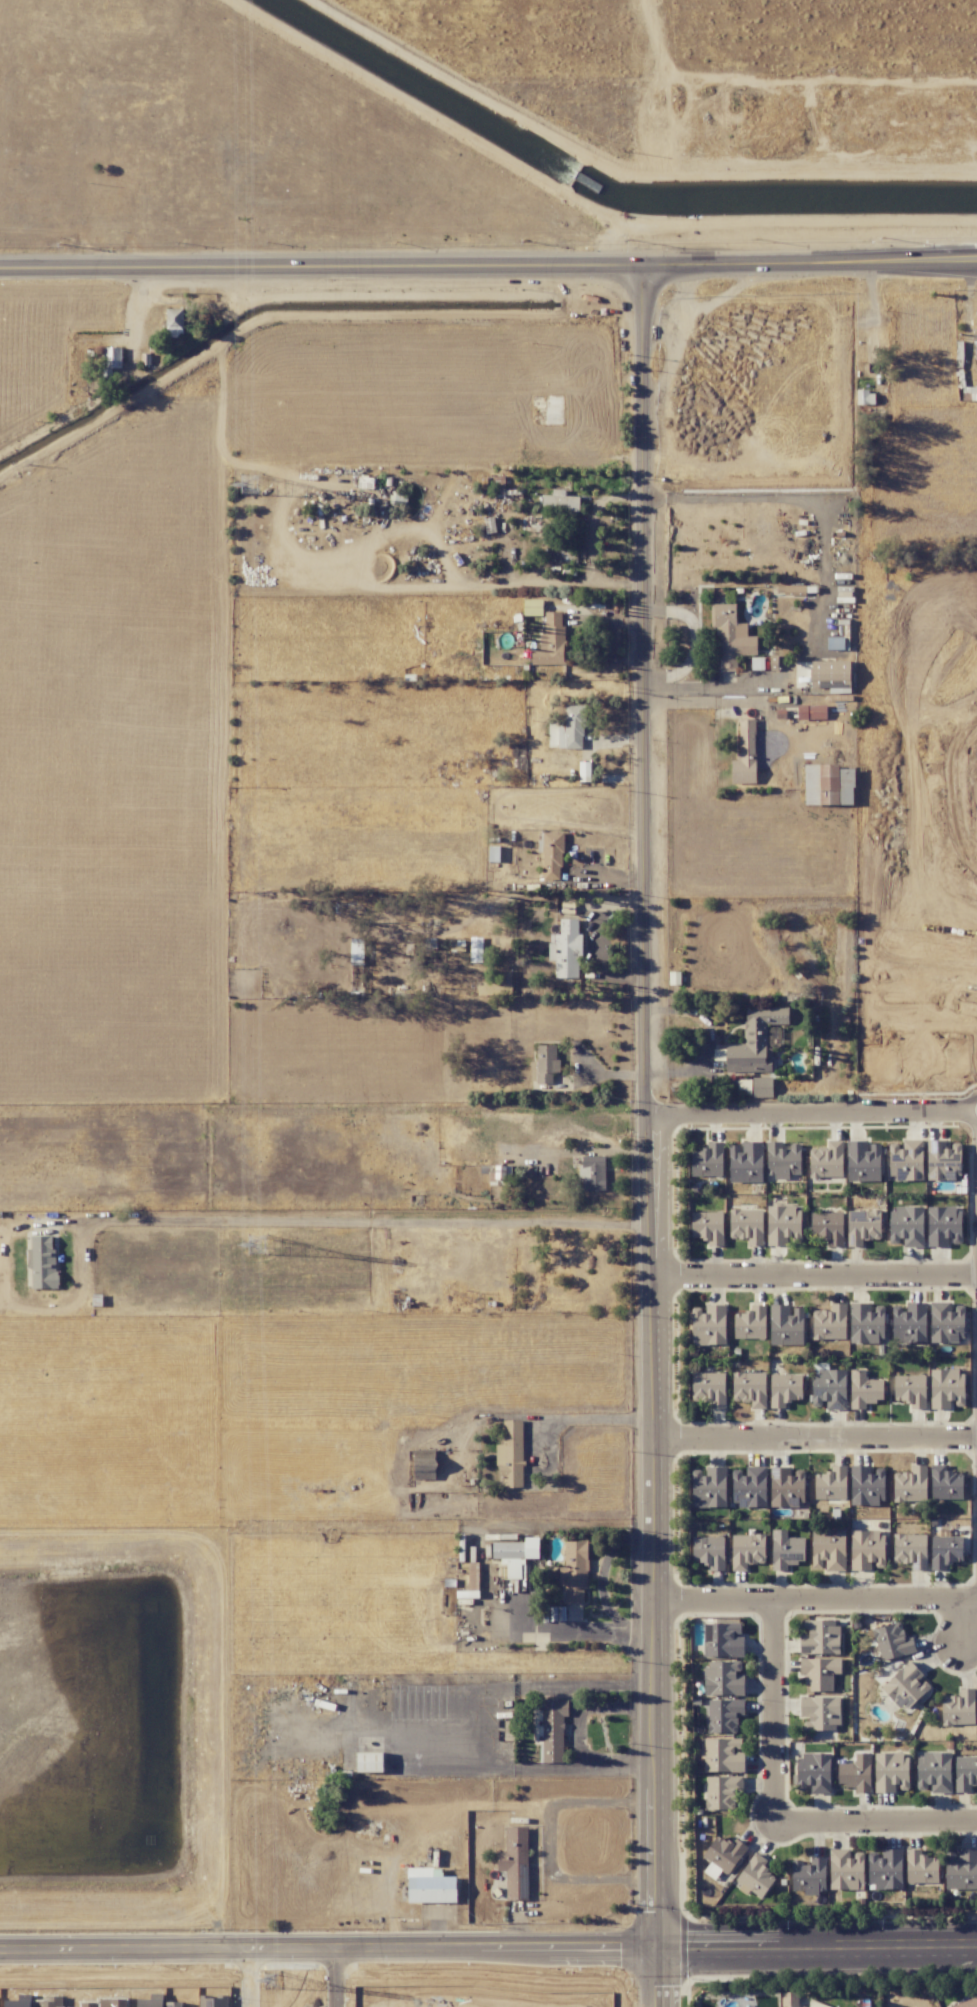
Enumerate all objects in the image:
road: (808, 263)
road: (320, 266)
building: (174, 322)
road: (873, 323)
building: (110, 360)
building: (865, 397)
power tower: (246, 486)
building: (501, 489)
building: (560, 503)
road: (823, 581)
building: (794, 589)
building: (731, 636)
road: (695, 640)
building: (551, 642)
building: (811, 712)
building: (574, 726)
building: (561, 734)
building: (745, 754)
building: (828, 785)
building: (552, 855)
building: (566, 949)
building: (357, 951)
building: (496, 984)
road: (712, 1039)
building: (755, 1041)
building: (544, 1064)
building: (755, 1087)
road: (653, 1104)
road: (815, 1117)
building: (943, 1159)
building: (707, 1160)
building: (783, 1160)
building: (826, 1160)
building: (906, 1160)
building: (863, 1161)
building: (746, 1162)
building: (503, 1173)
building: (592, 1173)
road: (368, 1224)
building: (783, 1225)
building: (943, 1225)
building: (747, 1226)
building: (863, 1226)
building: (906, 1226)
building: (708, 1227)
building: (827, 1227)
power tower: (254, 1247)
building: (42, 1262)
road: (815, 1277)
building: (750, 1323)
building: (830, 1323)
building: (866, 1323)
building: (909, 1323)
building: (947, 1323)
building: (708, 1324)
building: (786, 1325)
building: (709, 1388)
building: (750, 1389)
building: (785, 1389)
building: (829, 1389)
building: (863, 1389)
building: (946, 1389)
building: (910, 1390)
road: (524, 1414)
road: (816, 1440)
building: (510, 1455)
building: (425, 1464)
building: (945, 1482)
building: (831, 1484)
building: (910, 1484)
building: (867, 1485)
building: (750, 1486)
building: (787, 1486)
building: (709, 1487)
building: (786, 1550)
building: (828, 1550)
building: (867, 1550)
building: (910, 1550)
building: (945, 1550)
building: (747, 1551)
building: (709, 1552)
building: (515, 1555)
building: (574, 1572)
road: (816, 1605)
road: (958, 1623)
building: (820, 1637)
building: (893, 1642)
building: (820, 1672)
building: (724, 1678)
building: (907, 1688)
building: (958, 1708)
building: (820, 1713)
building: (723, 1715)
road: (774, 1715)
building: (553, 1730)
road: (579, 1735)
building: (723, 1755)
building: (369, 1762)
building: (814, 1772)
building: (891, 1772)
building: (933, 1772)
building: (856, 1773)
building: (965, 1773)
building: (722, 1791)
road: (876, 1824)
road: (548, 1839)
building: (723, 1856)
building: (514, 1863)
building: (920, 1867)
building: (885, 1869)
building: (961, 1869)
building: (809, 1876)
building: (755, 1877)
building: (430, 1886)
road: (817, 1942)
road: (328, 1946)
road: (657, 1975)
road: (252, 1976)
road: (341, 1976)
power tower: (269, 1980)
building: (213, 2001)
building: (150, 2003)
building: (174, 2003)
building: (967, 2003)
building: (816, 2004)
building: (802, 2006)

